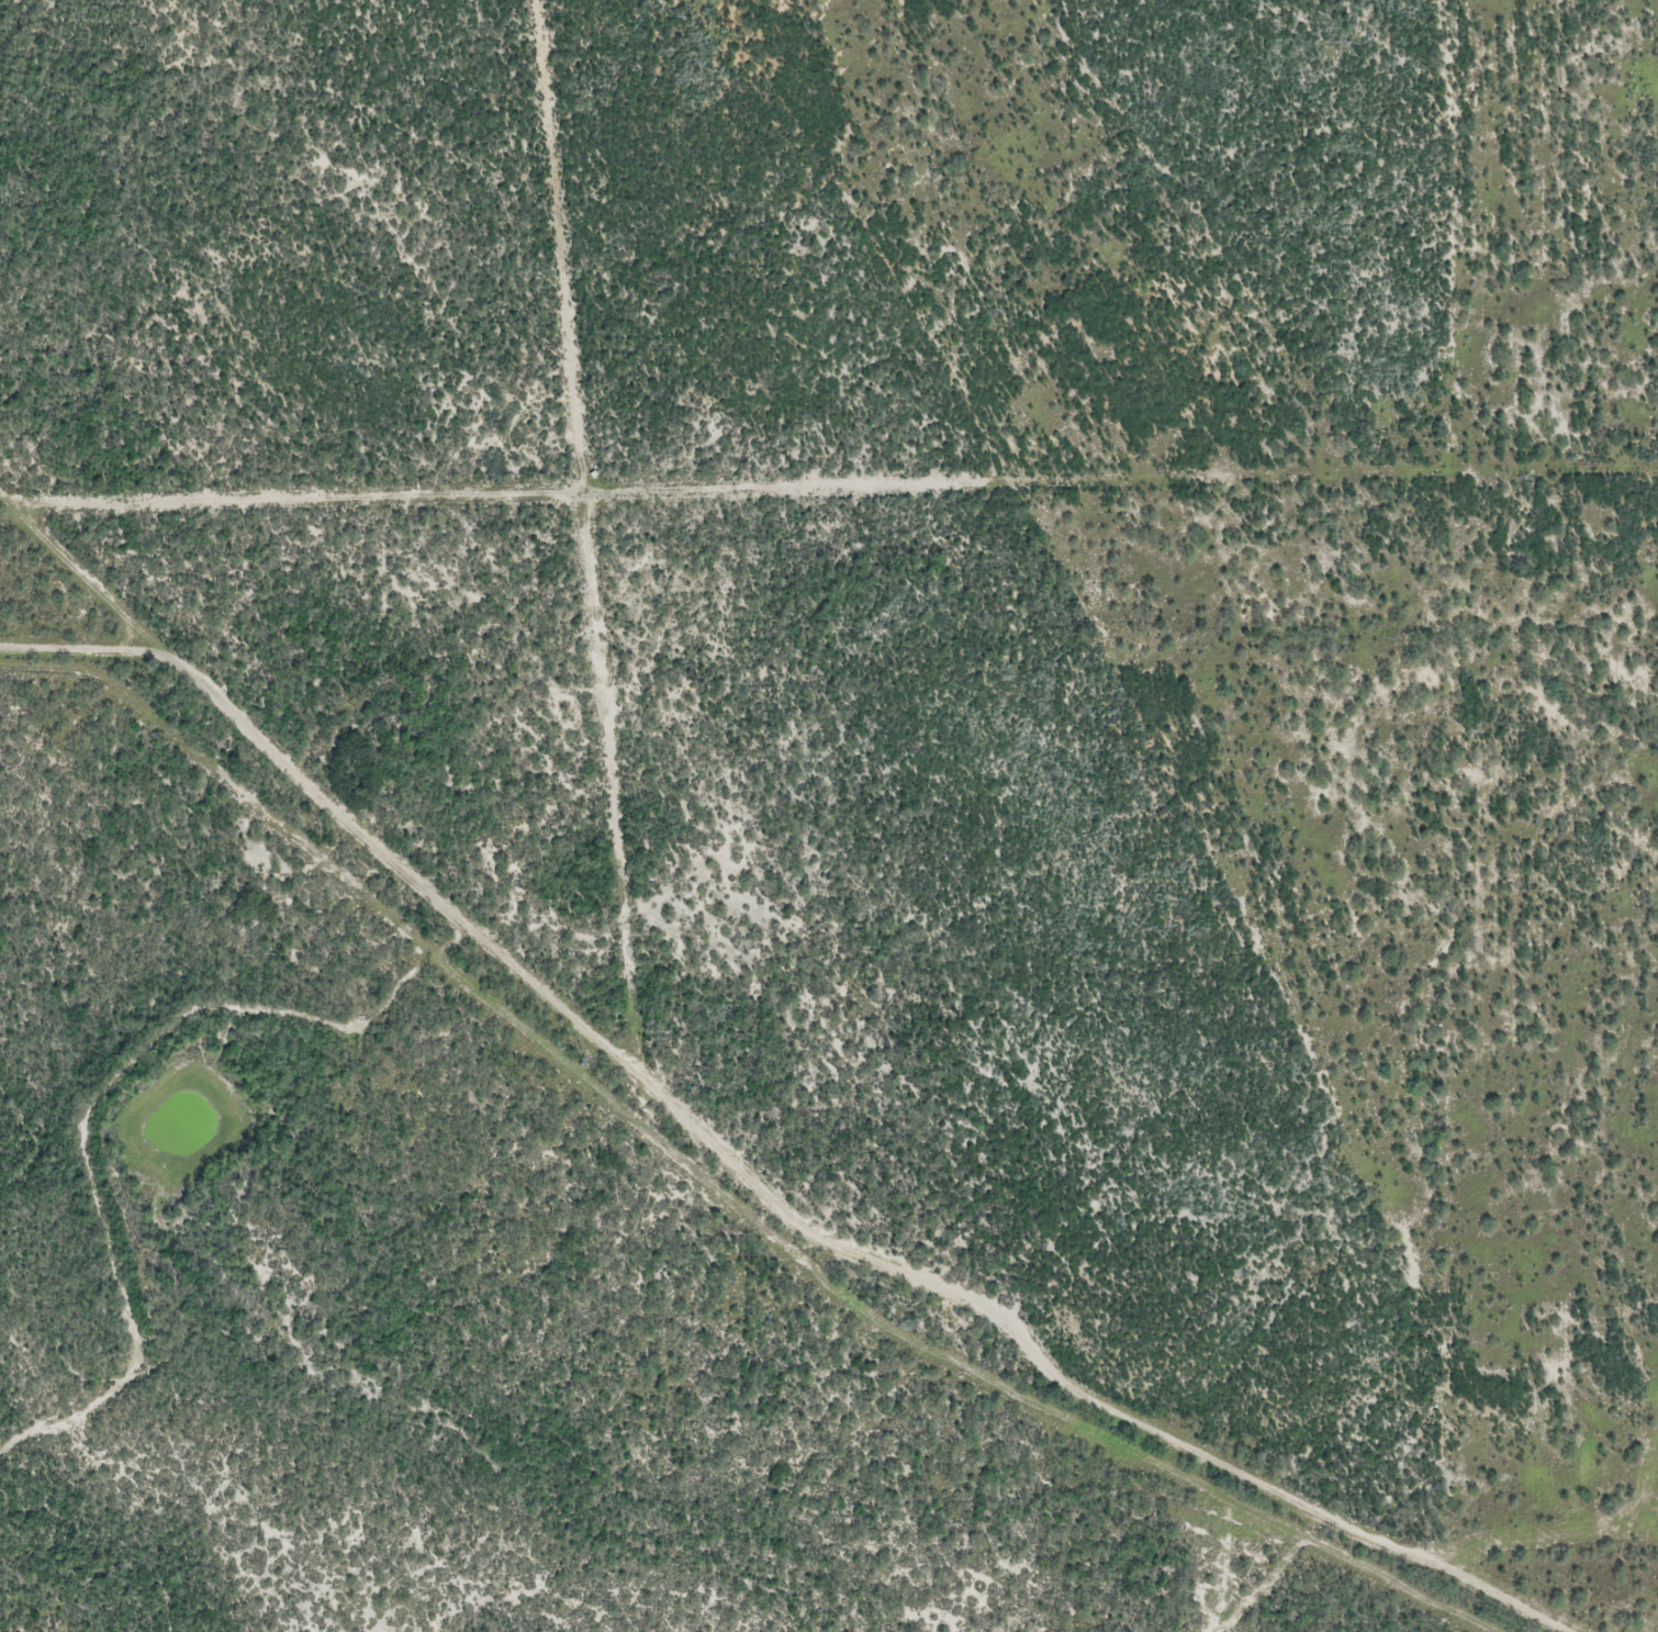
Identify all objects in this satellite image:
road: (714, 1156)

